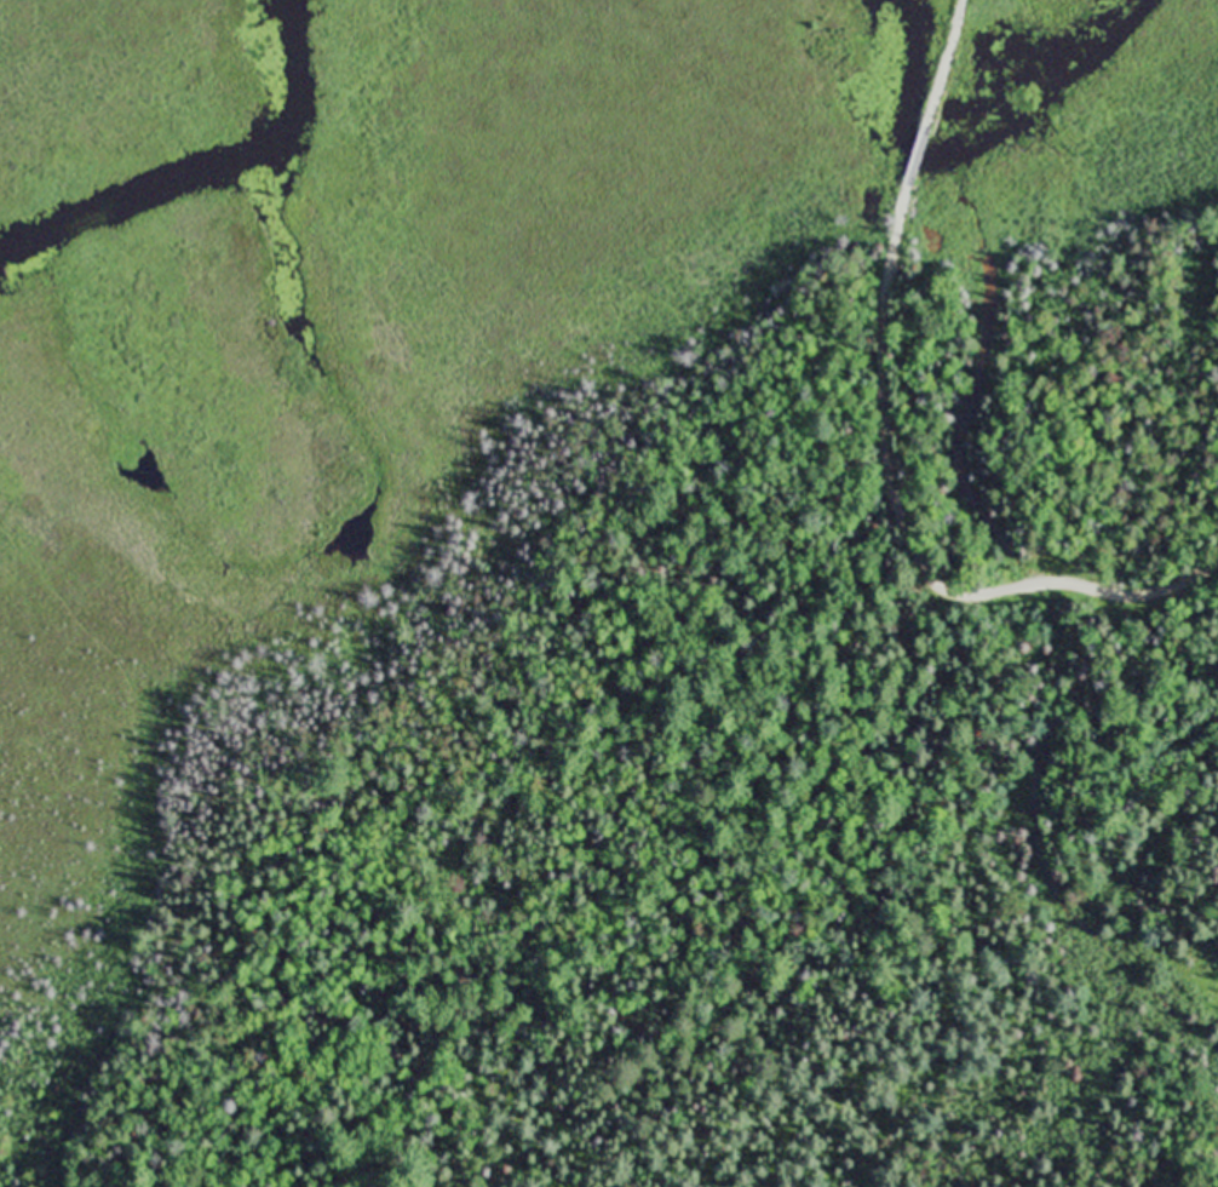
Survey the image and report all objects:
road: (954, 34)
road: (924, 136)
road: (908, 544)

